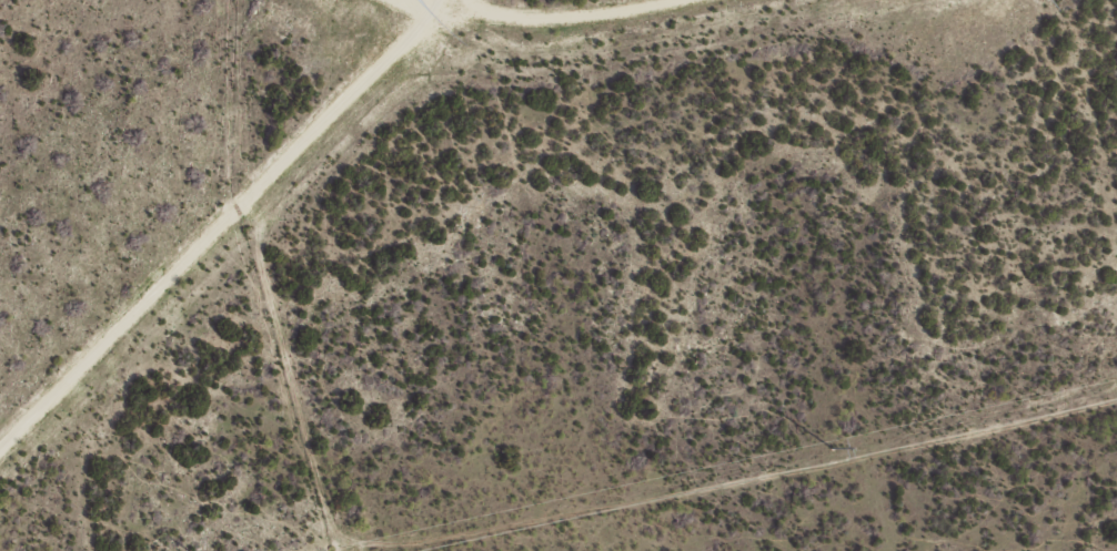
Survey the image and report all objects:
power tower: (828, 448)

